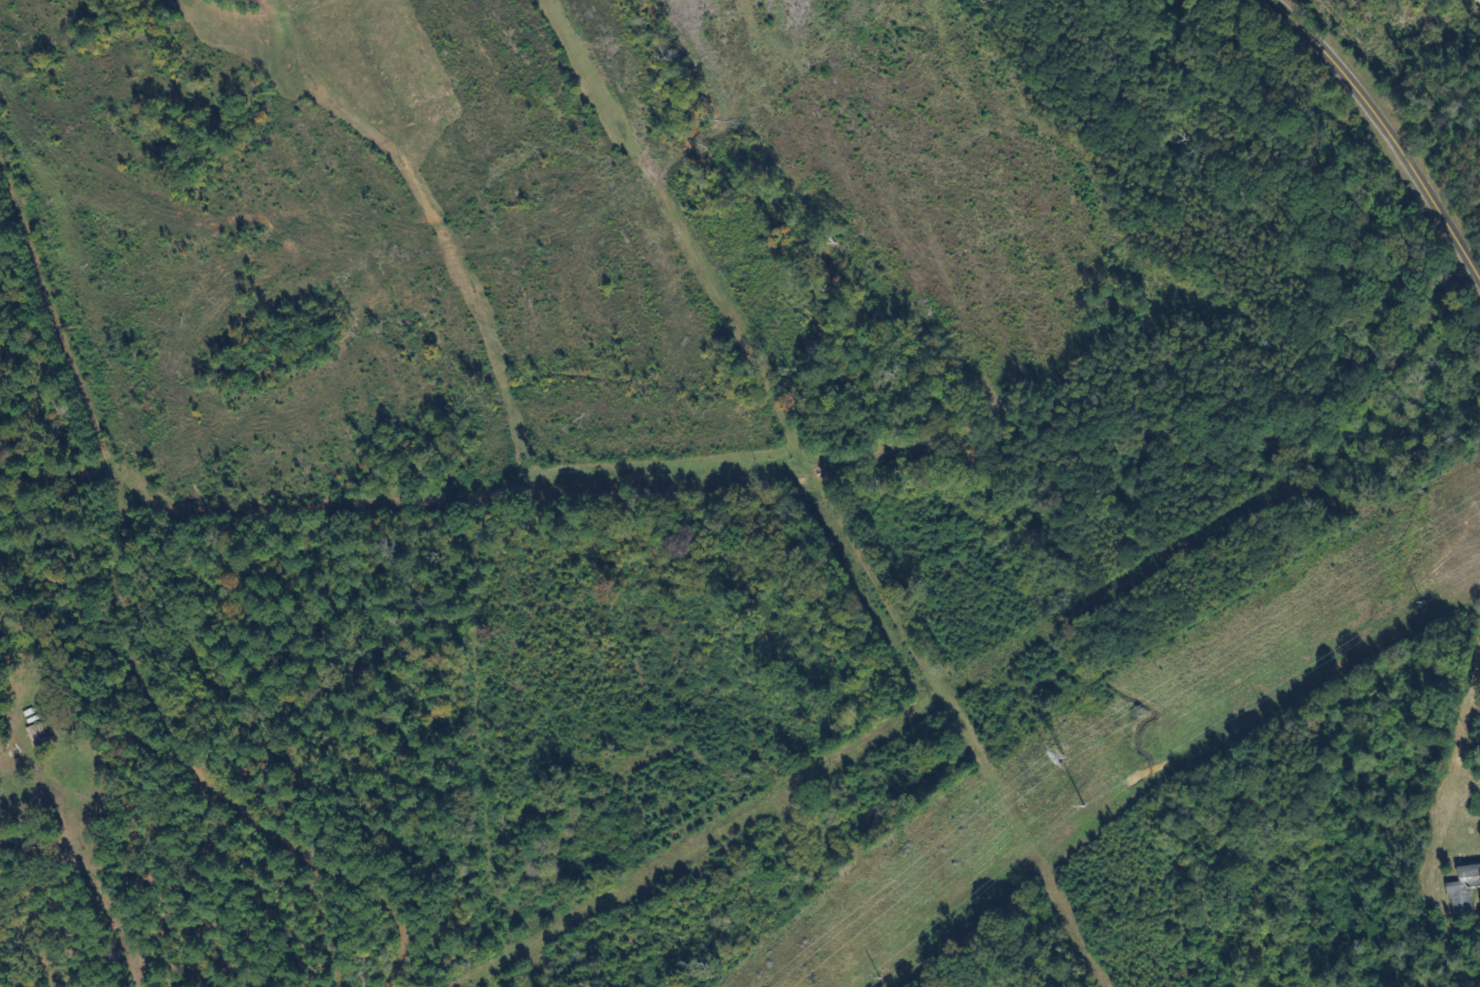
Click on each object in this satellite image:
road: (1386, 133)
power tower: (1063, 759)
building: (1463, 890)

